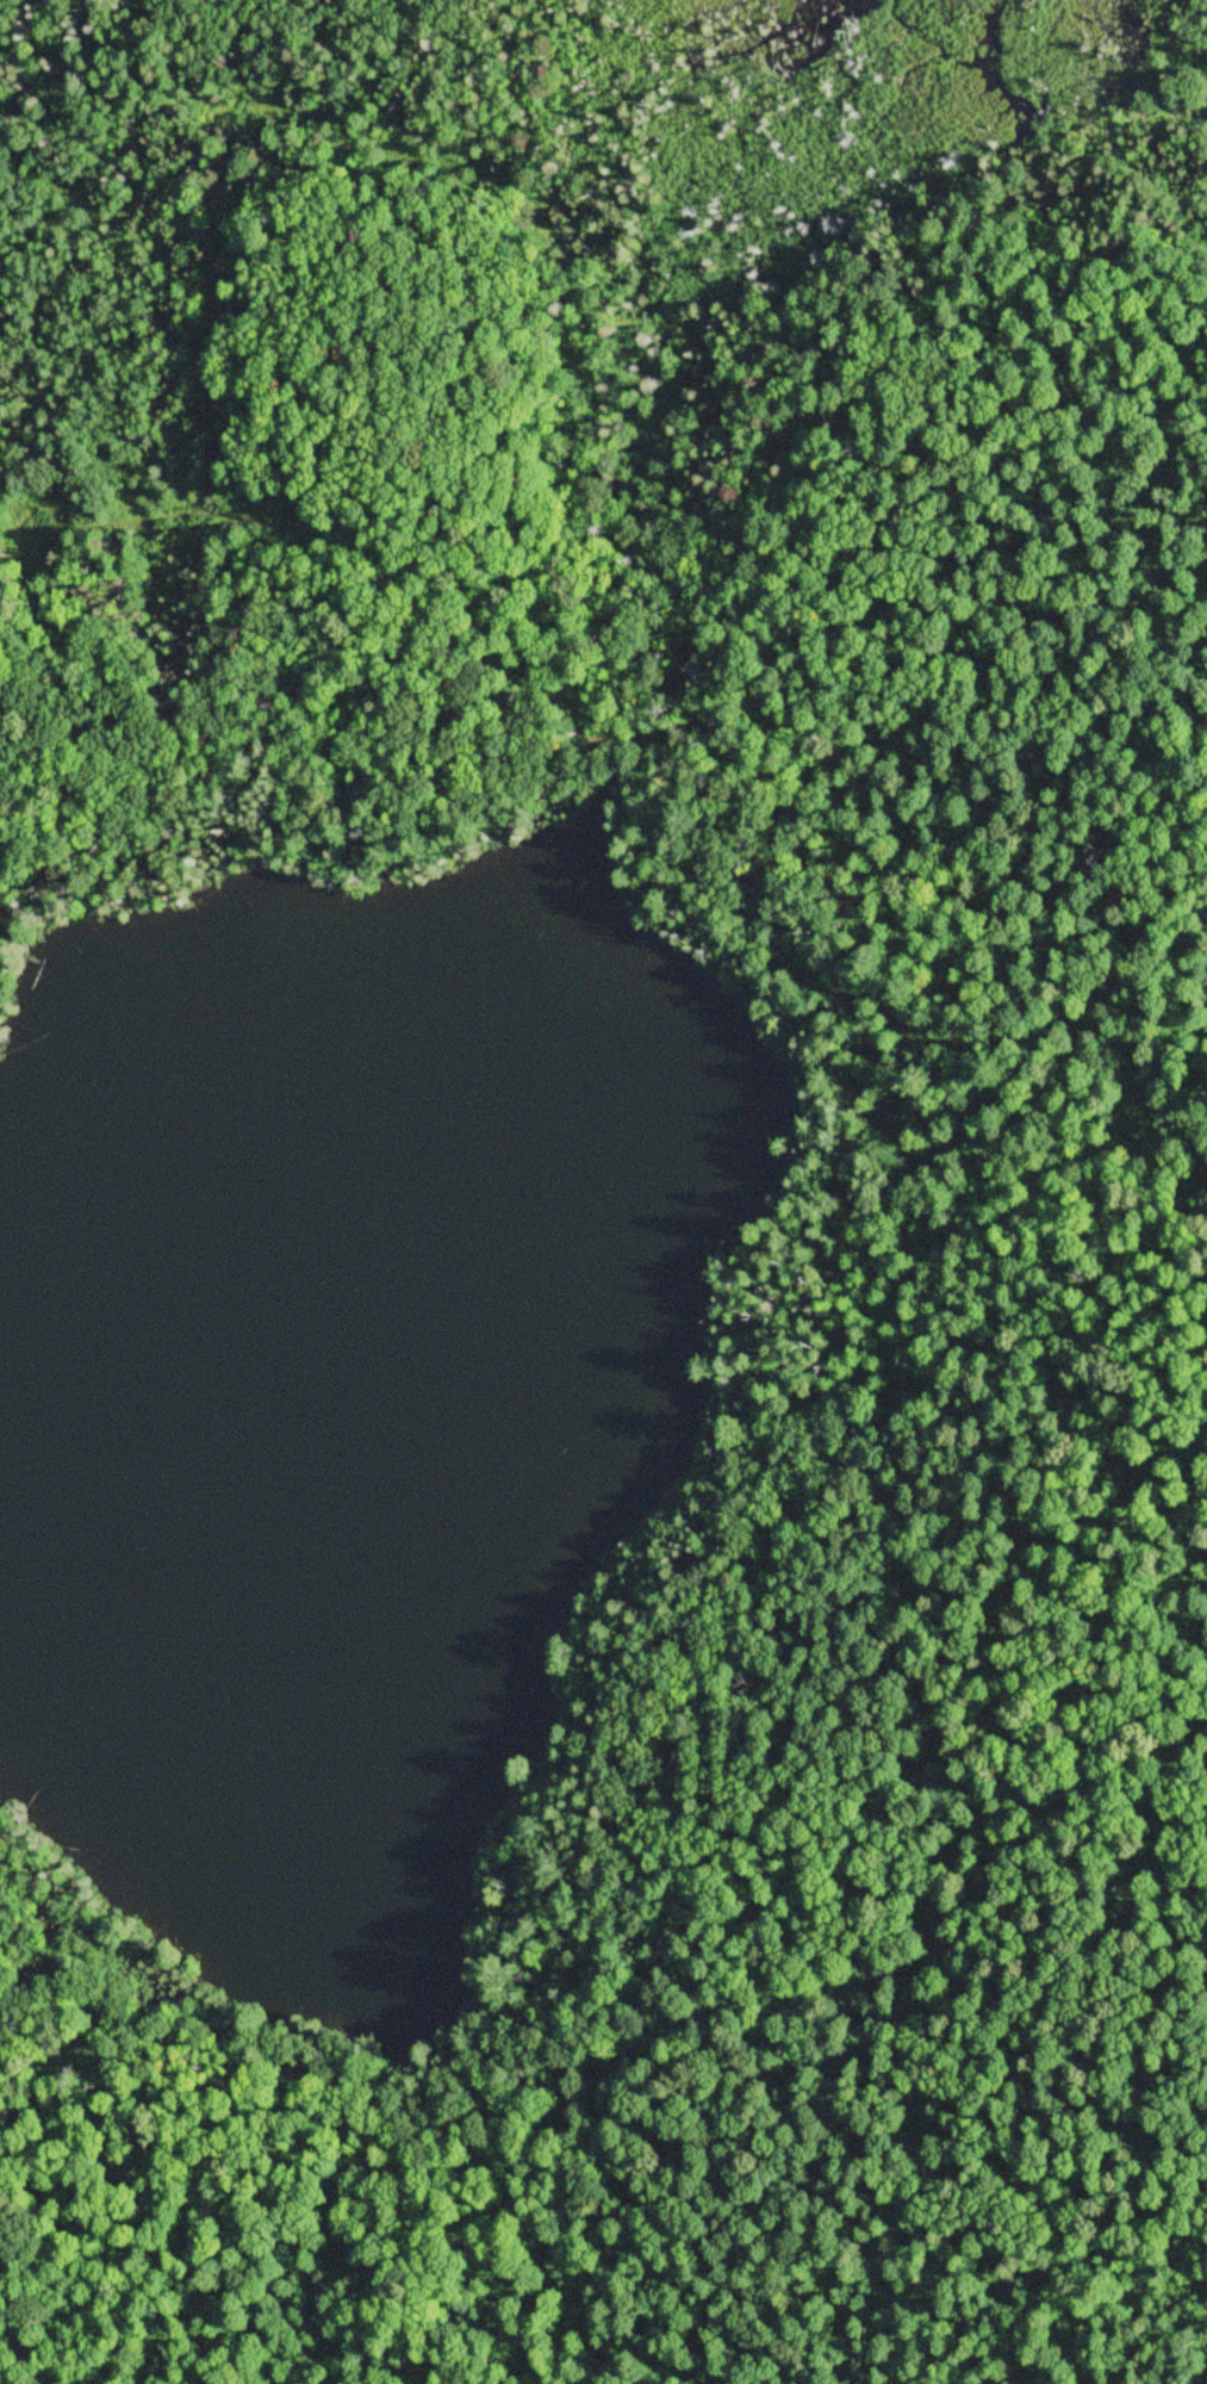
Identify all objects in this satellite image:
road: (621, 642)

